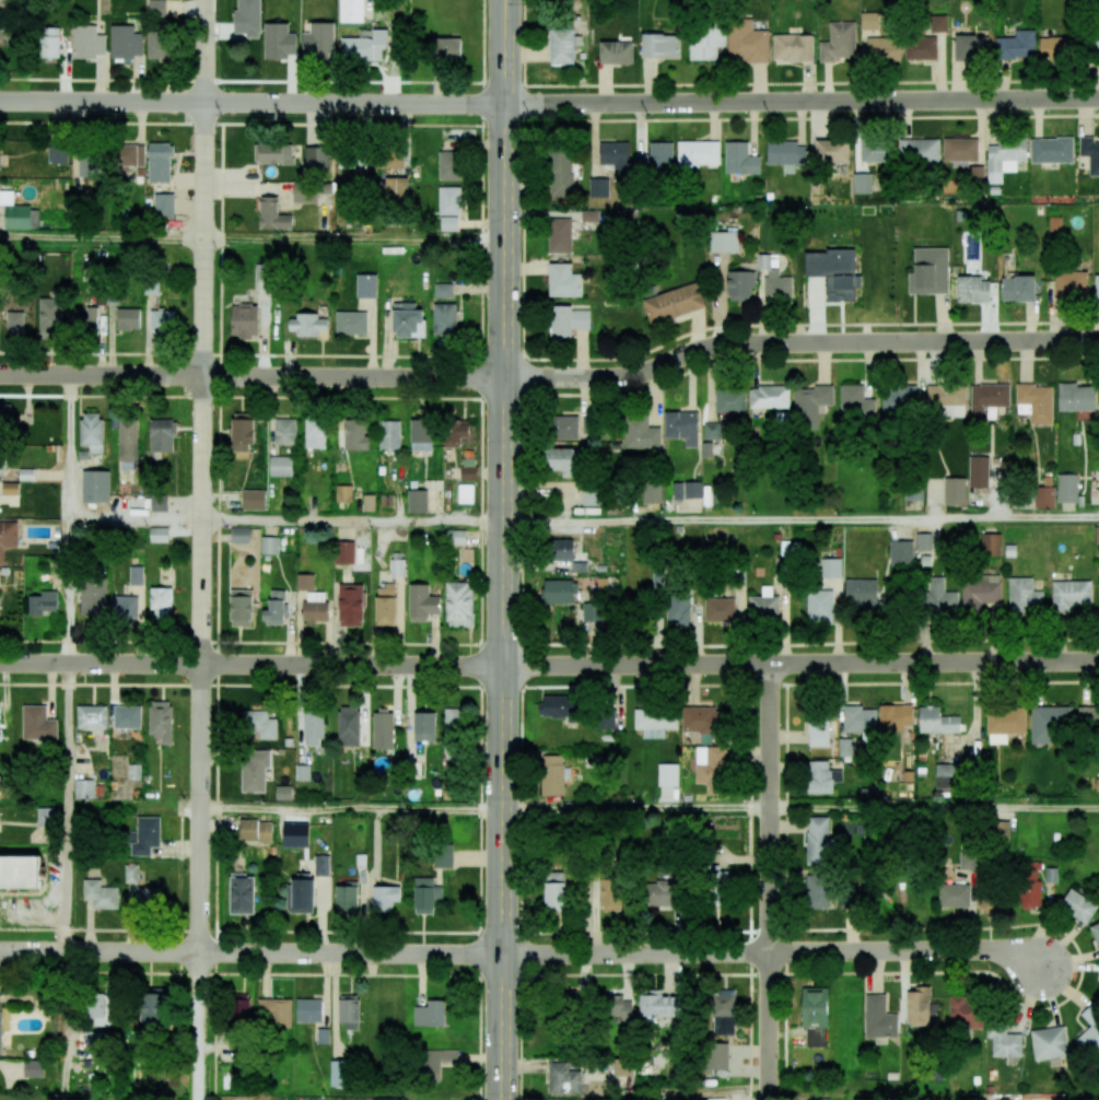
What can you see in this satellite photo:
building: (156, 8)
building: (351, 11)
building: (869, 21)
building: (938, 23)
power substation: (284, 32)
building: (318, 39)
building: (279, 40)
building: (48, 42)
building: (87, 42)
building: (126, 42)
building: (706, 42)
building: (747, 42)
building: (839, 43)
building: (1096, 43)
building: (157, 45)
building: (563, 45)
building: (1016, 45)
building: (364, 46)
building: (660, 46)
building: (792, 47)
building: (971, 47)
building: (1059, 47)
building: (445, 48)
building: (882, 48)
building: (921, 48)
building: (616, 52)
road: (549, 84)
road: (802, 101)
road: (252, 103)
road: (549, 120)
building: (1051, 150)
building: (832, 151)
building: (875, 151)
building: (924, 151)
building: (959, 151)
building: (276, 153)
building: (698, 153)
building: (1090, 153)
building: (57, 154)
building: (615, 154)
building: (786, 154)
building: (130, 155)
building: (316, 159)
building: (386, 159)
building: (655, 159)
building: (739, 159)
building: (1004, 159)
building: (159, 162)
building: (451, 165)
building: (91, 166)
building: (561, 173)
building: (975, 173)
building: (862, 183)
building: (598, 187)
building: (396, 189)
building: (304, 192)
building: (449, 200)
building: (164, 204)
building: (21, 212)
building: (272, 214)
building: (589, 215)
building: (448, 223)
building: (1054, 223)
building: (560, 235)
road: (103, 238)
road: (353, 239)
building: (723, 242)
building: (928, 271)
building: (833, 272)
building: (261, 273)
building: (563, 281)
building: (739, 284)
building: (776, 284)
building: (1071, 284)
building: (366, 285)
building: (1097, 286)
building: (1017, 288)
building: (972, 289)
building: (443, 290)
building: (674, 303)
building: (50, 317)
building: (128, 318)
building: (444, 318)
building: (86, 320)
building: (245, 320)
building: (408, 320)
building: (568, 320)
building: (15, 321)
building: (162, 321)
building: (351, 323)
building: (307, 325)
road: (797, 341)
road: (552, 359)
road: (252, 376)
road: (551, 395)
building: (769, 397)
building: (1076, 397)
building: (899, 398)
building: (729, 399)
building: (947, 399)
building: (987, 399)
building: (855, 402)
building: (1036, 402)
building: (811, 405)
building: (5, 414)
building: (681, 426)
building: (565, 428)
building: (91, 431)
building: (284, 431)
building: (711, 431)
building: (242, 432)
building: (456, 432)
building: (640, 432)
building: (315, 433)
building: (355, 434)
building: (388, 434)
building: (421, 434)
building: (162, 435)
building: (128, 441)
road: (70, 447)
building: (563, 460)
building: (3, 465)
building: (280, 466)
building: (979, 471)
building: (26, 473)
road: (51, 475)
road: (203, 476)
building: (95, 485)
building: (10, 488)
building: (1067, 488)
building: (687, 490)
building: (954, 491)
building: (343, 493)
building: (465, 493)
building: (651, 493)
building: (591, 496)
building: (1044, 496)
building: (254, 500)
building: (417, 501)
building: (369, 502)
building: (159, 503)
road: (137, 519)
road: (800, 519)
road: (352, 520)
building: (159, 534)
building: (241, 535)
building: (1097, 535)
building: (8, 536)
building: (455, 537)
building: (927, 542)
building: (269, 545)
building: (991, 545)
road: (481, 549)
road: (502, 549)
building: (561, 549)
road: (521, 550)
building: (343, 552)
building: (901, 552)
building: (397, 567)
building: (833, 571)
building: (136, 575)
building: (305, 582)
road: (70, 592)
building: (559, 592)
building: (863, 594)
building: (1069, 594)
building: (93, 596)
building: (1024, 596)
building: (939, 598)
building: (161, 601)
building: (43, 602)
building: (422, 602)
building: (458, 604)
building: (820, 604)
building: (350, 605)
building: (385, 605)
building: (763, 605)
building: (125, 606)
building: (315, 606)
building: (241, 607)
building: (274, 608)
building: (678, 609)
building: (718, 609)
road: (217, 611)
building: (591, 611)
road: (549, 637)
road: (800, 663)
road: (250, 665)
road: (549, 682)
building: (560, 706)
building: (0, 709)
building: (127, 716)
building: (895, 717)
building: (92, 718)
building: (703, 718)
building: (1088, 718)
building: (858, 719)
building: (161, 721)
building: (605, 721)
building: (936, 721)
building: (655, 722)
building: (1049, 722)
building: (38, 723)
building: (258, 724)
building: (1004, 724)
building: (349, 726)
building: (424, 726)
building: (313, 728)
building: (818, 729)
building: (383, 730)
road: (69, 734)
building: (452, 735)
building: (710, 768)
building: (254, 770)
building: (667, 774)
building: (551, 775)
building: (947, 775)
building: (821, 777)
building: (83, 788)
building: (0, 793)
building: (283, 793)
road: (135, 805)
road: (934, 806)
road: (350, 807)
road: (635, 807)
building: (47, 817)
building: (255, 830)
road: (180, 832)
building: (144, 835)
building: (818, 841)
building: (443, 855)
building: (967, 858)
building: (321, 865)
building: (19, 871)
building: (130, 873)
road: (69, 877)
road: (770, 881)
building: (717, 886)
building: (1030, 886)
building: (556, 891)
building: (302, 892)
building: (819, 892)
building: (242, 893)
building: (659, 893)
building: (100, 894)
building: (425, 894)
building: (610, 894)
building: (954, 894)
building: (346, 896)
building: (147, 897)
building: (385, 897)
building: (989, 902)
building: (1078, 905)
building: (1096, 933)
road: (179, 951)
road: (775, 951)
road: (249, 952)
road: (1079, 974)
building: (1098, 992)
building: (573, 995)
building: (152, 1005)
building: (657, 1005)
building: (917, 1006)
building: (617, 1007)
building: (241, 1008)
building: (100, 1009)
building: (308, 1010)
building: (349, 1010)
building: (274, 1011)
building: (724, 1011)
building: (964, 1011)
building: (430, 1014)
building: (815, 1016)
building: (878, 1018)
building: (0, 1025)
road: (67, 1026)
road: (199, 1026)
building: (1090, 1030)
building: (323, 1035)
building: (95, 1040)
building: (1005, 1043)
building: (1050, 1044)
building: (716, 1056)
building: (434, 1063)
building: (623, 1067)
building: (33, 1068)
building: (337, 1073)
building: (562, 1078)
building: (556, 1099)
building: (716, 1099)

